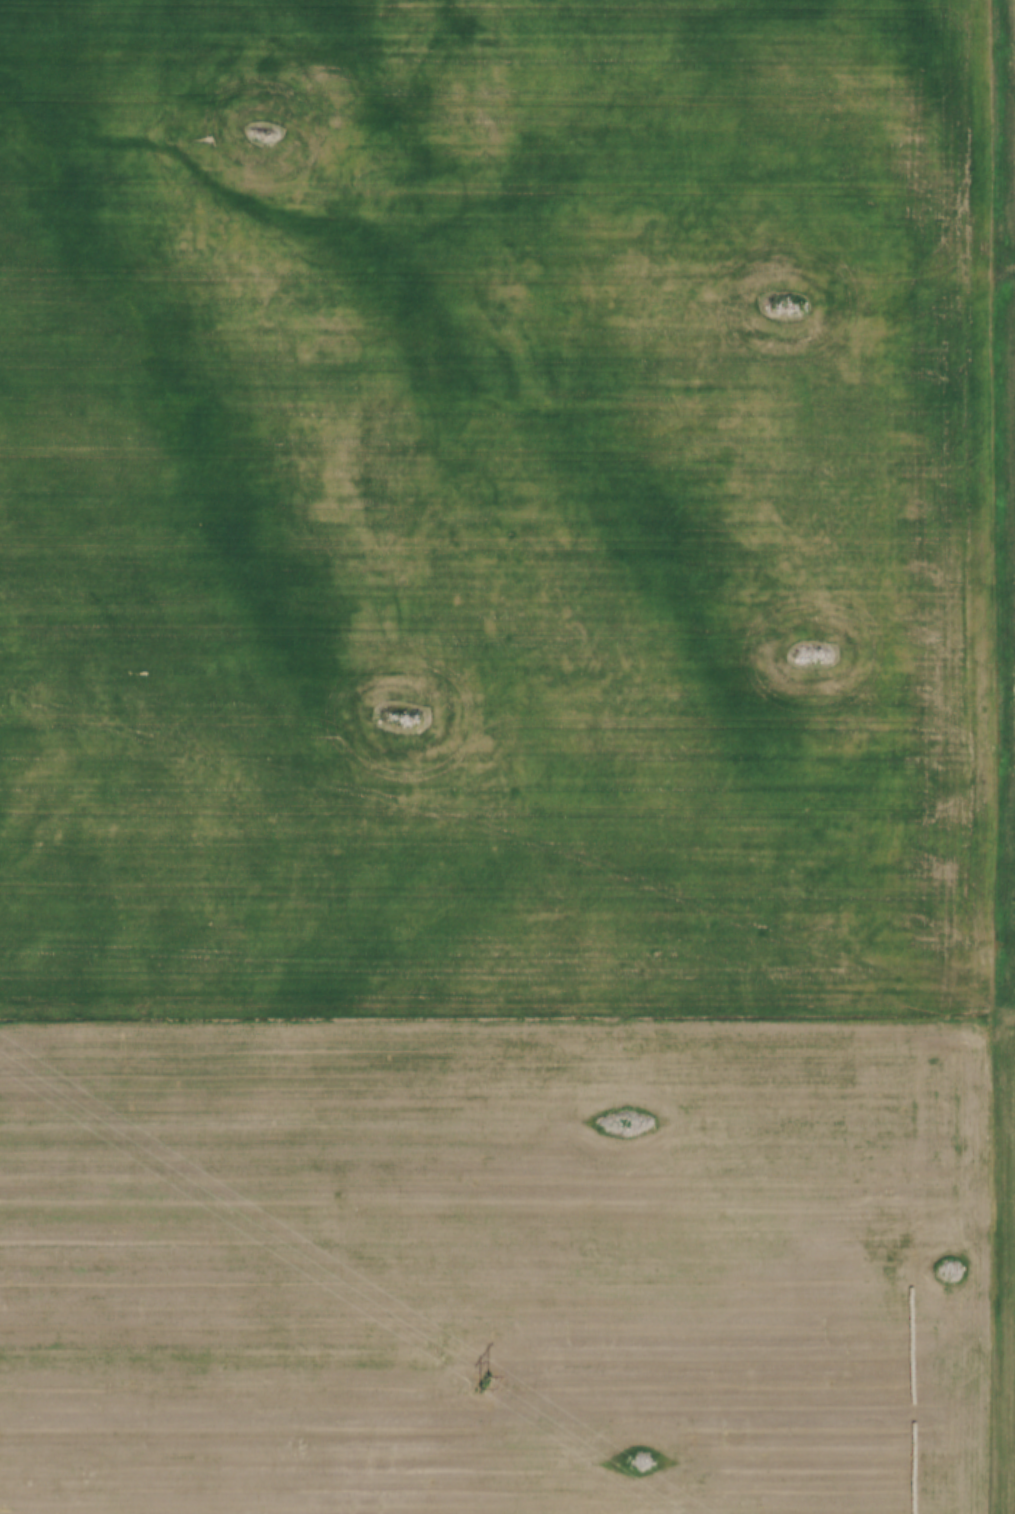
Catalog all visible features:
power tower: (484, 1383)

